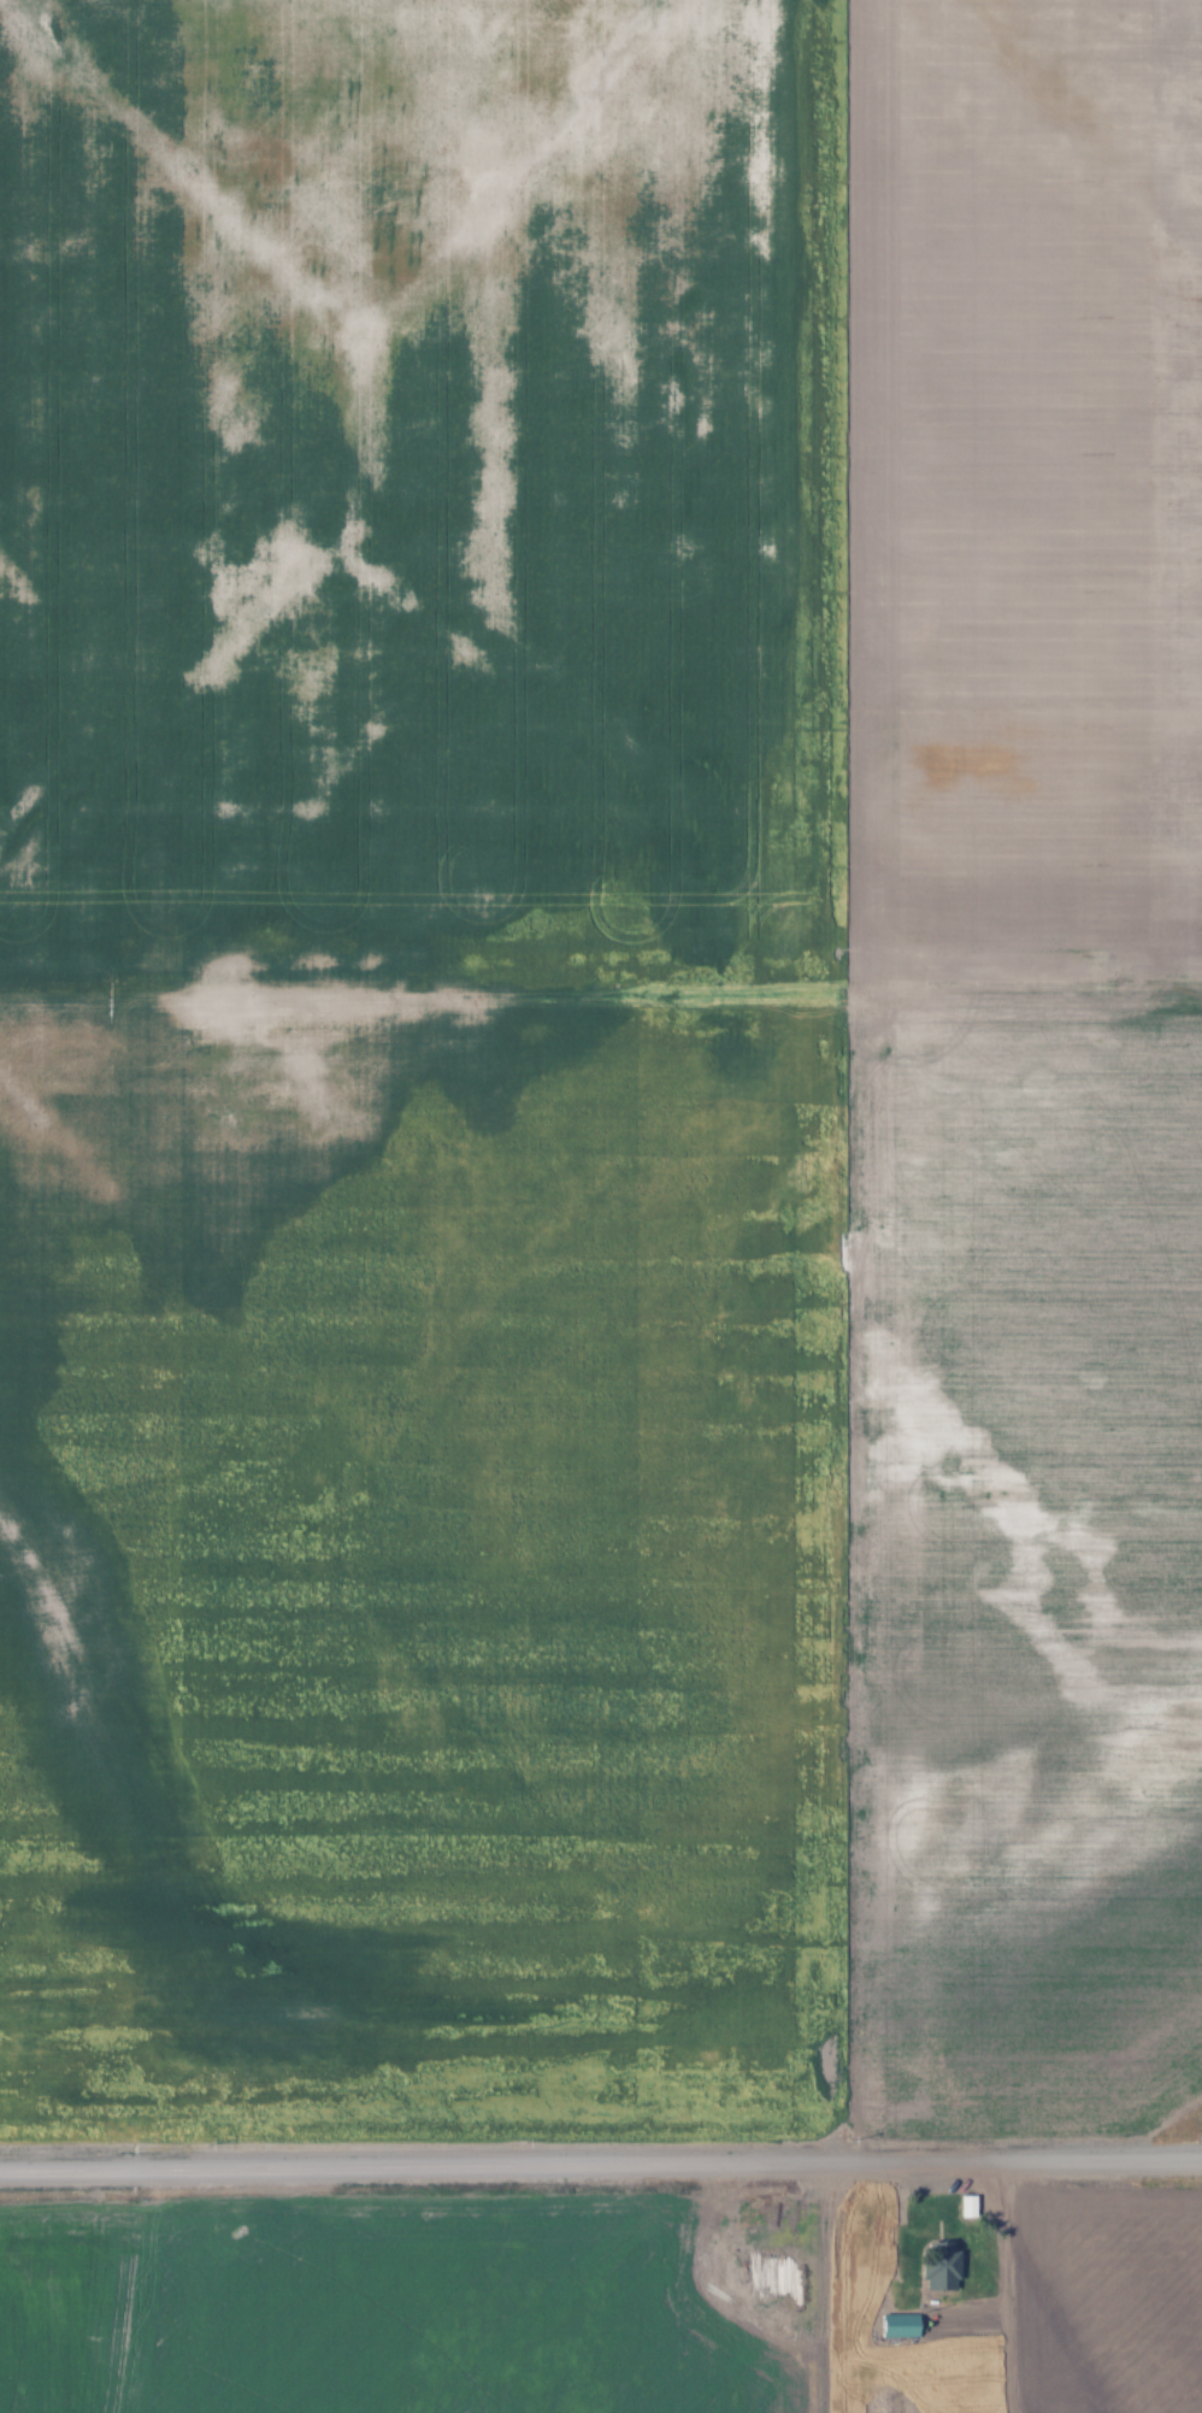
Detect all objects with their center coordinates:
road: (601, 2180)
building: (939, 2264)
building: (897, 2323)

